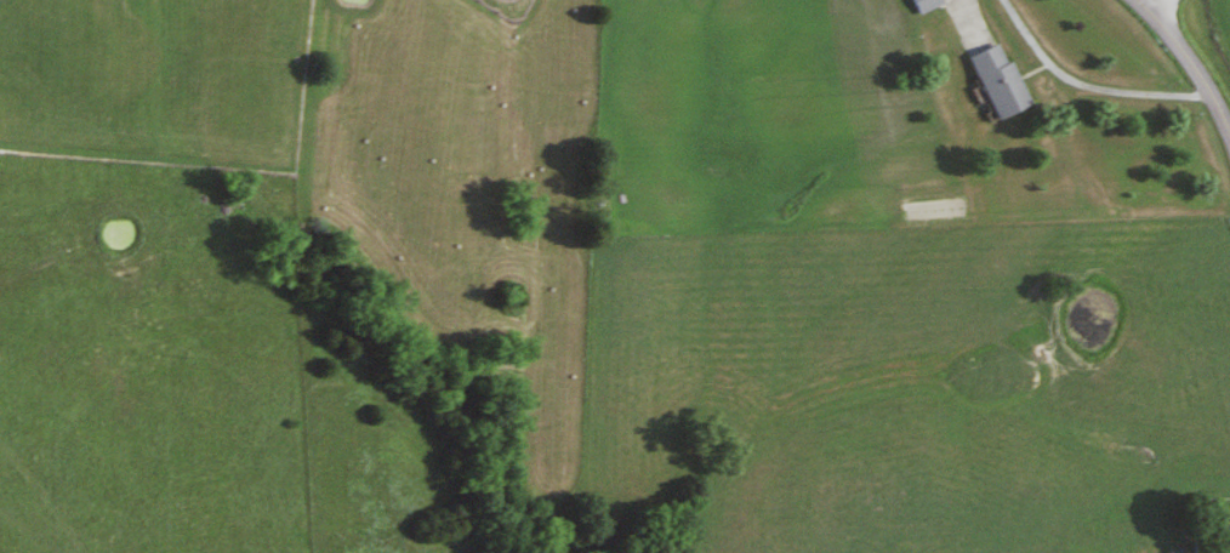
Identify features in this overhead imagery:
building: (919, 5)
road: (1168, 16)
road: (1186, 62)
building: (991, 81)
road: (1084, 91)
building: (1223, 525)

